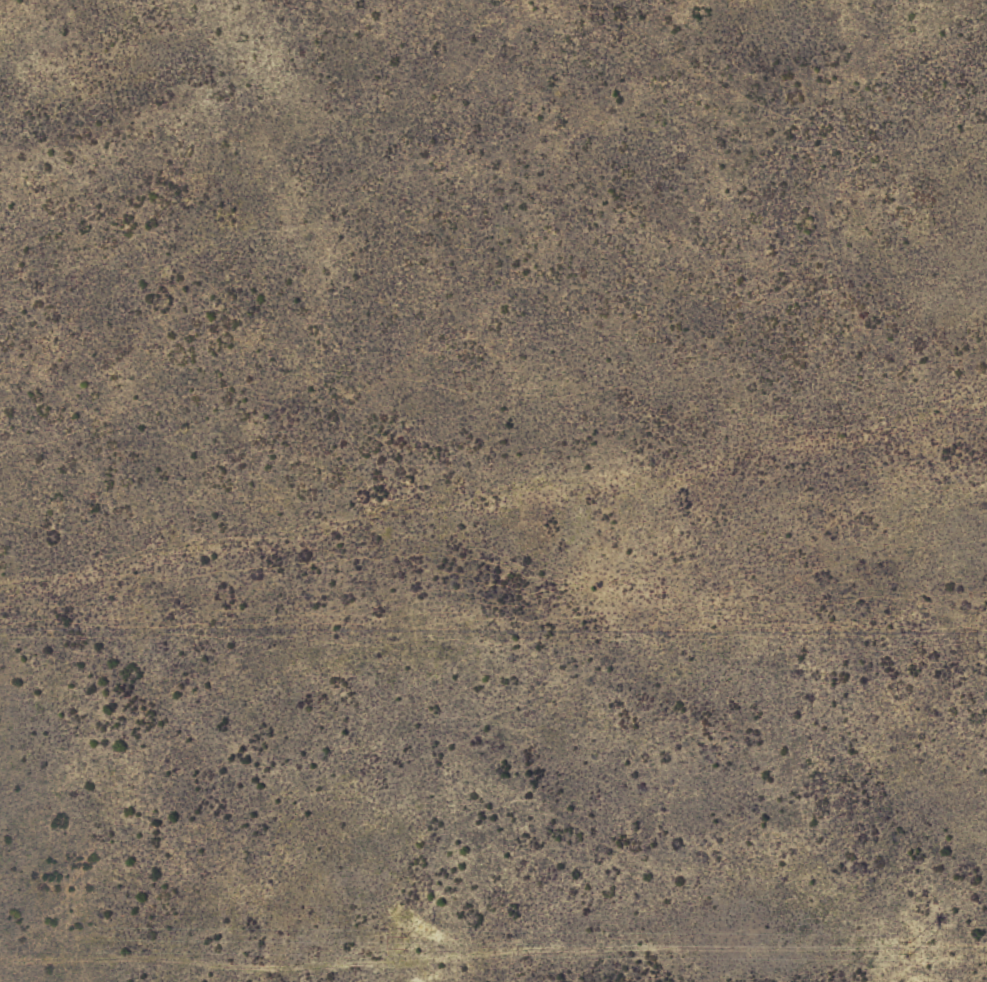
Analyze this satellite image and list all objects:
power tower: (405, 943)
power tower: (914, 944)

